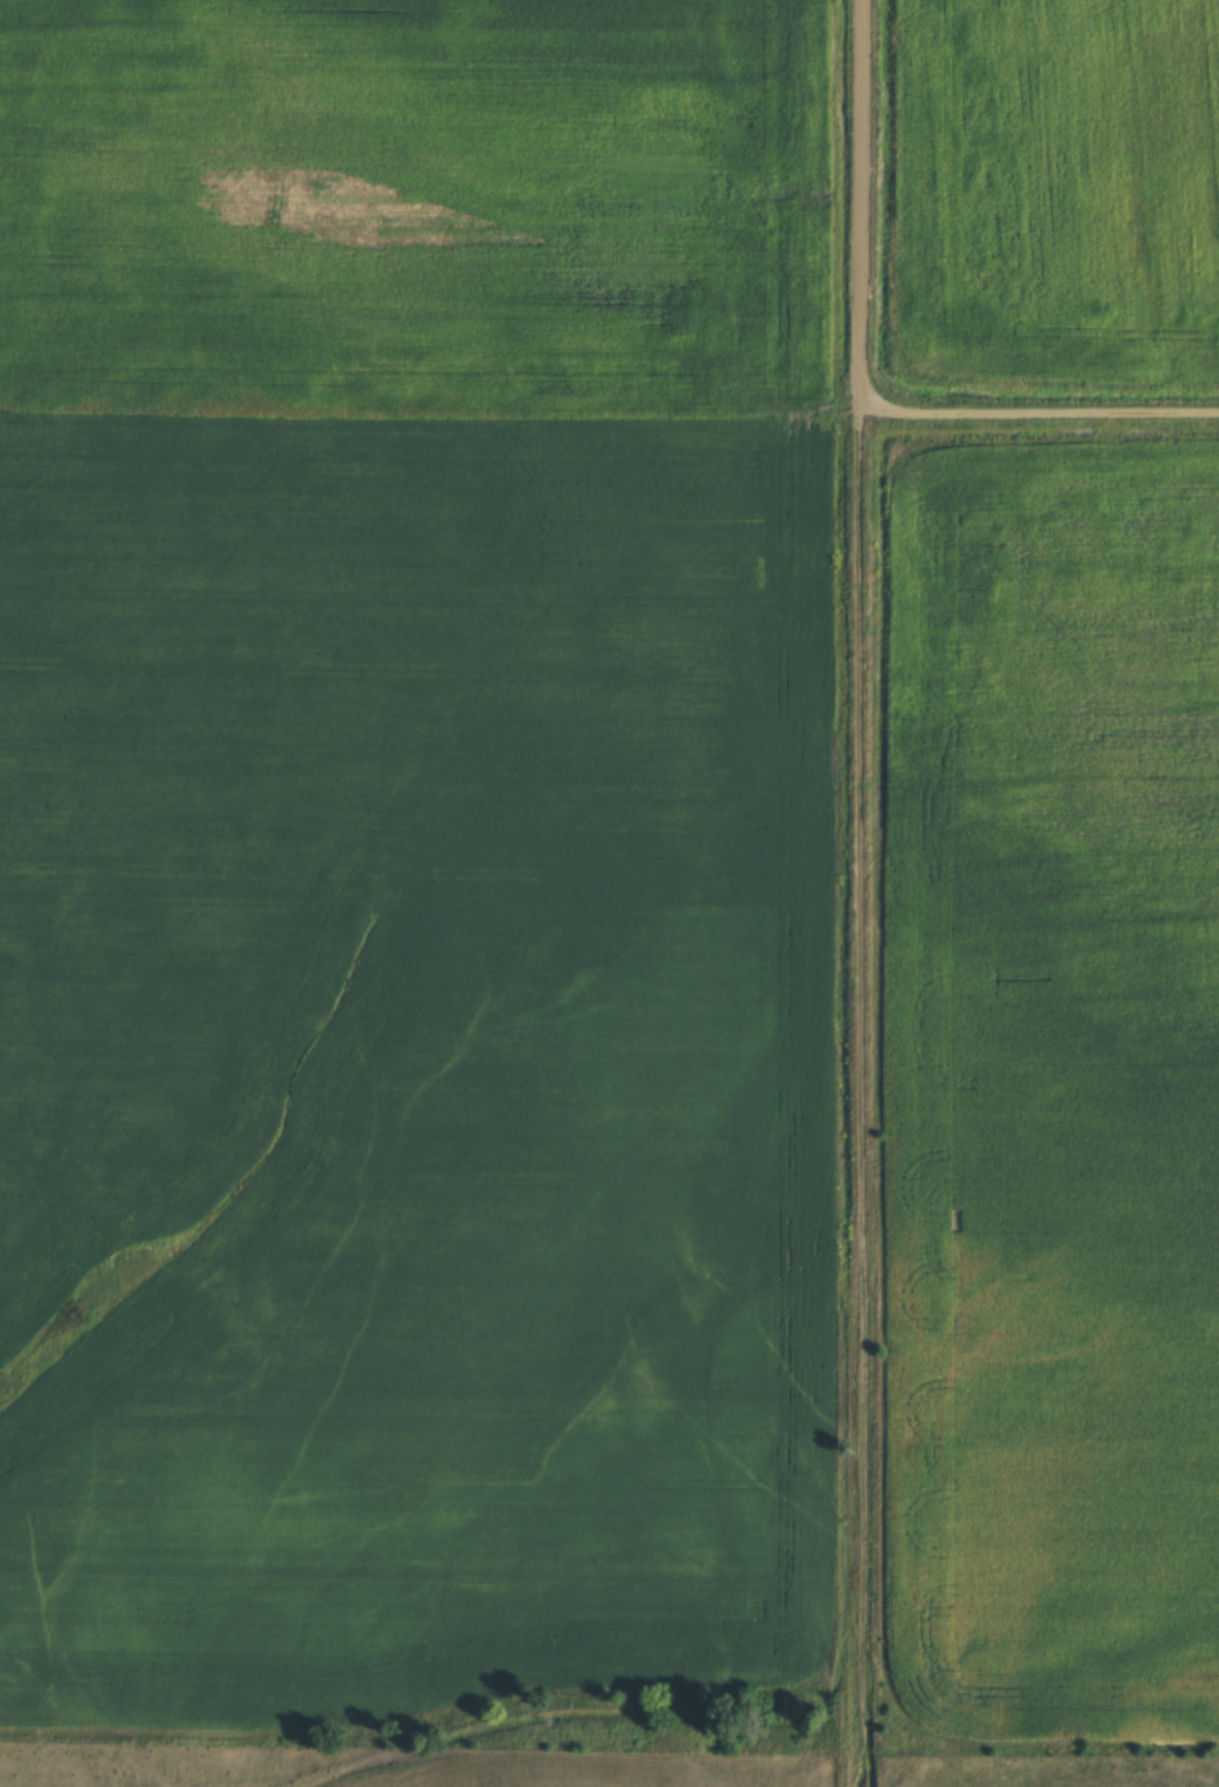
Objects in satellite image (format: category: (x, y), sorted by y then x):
road: (861, 205)
road: (1040, 411)
road: (860, 1098)

